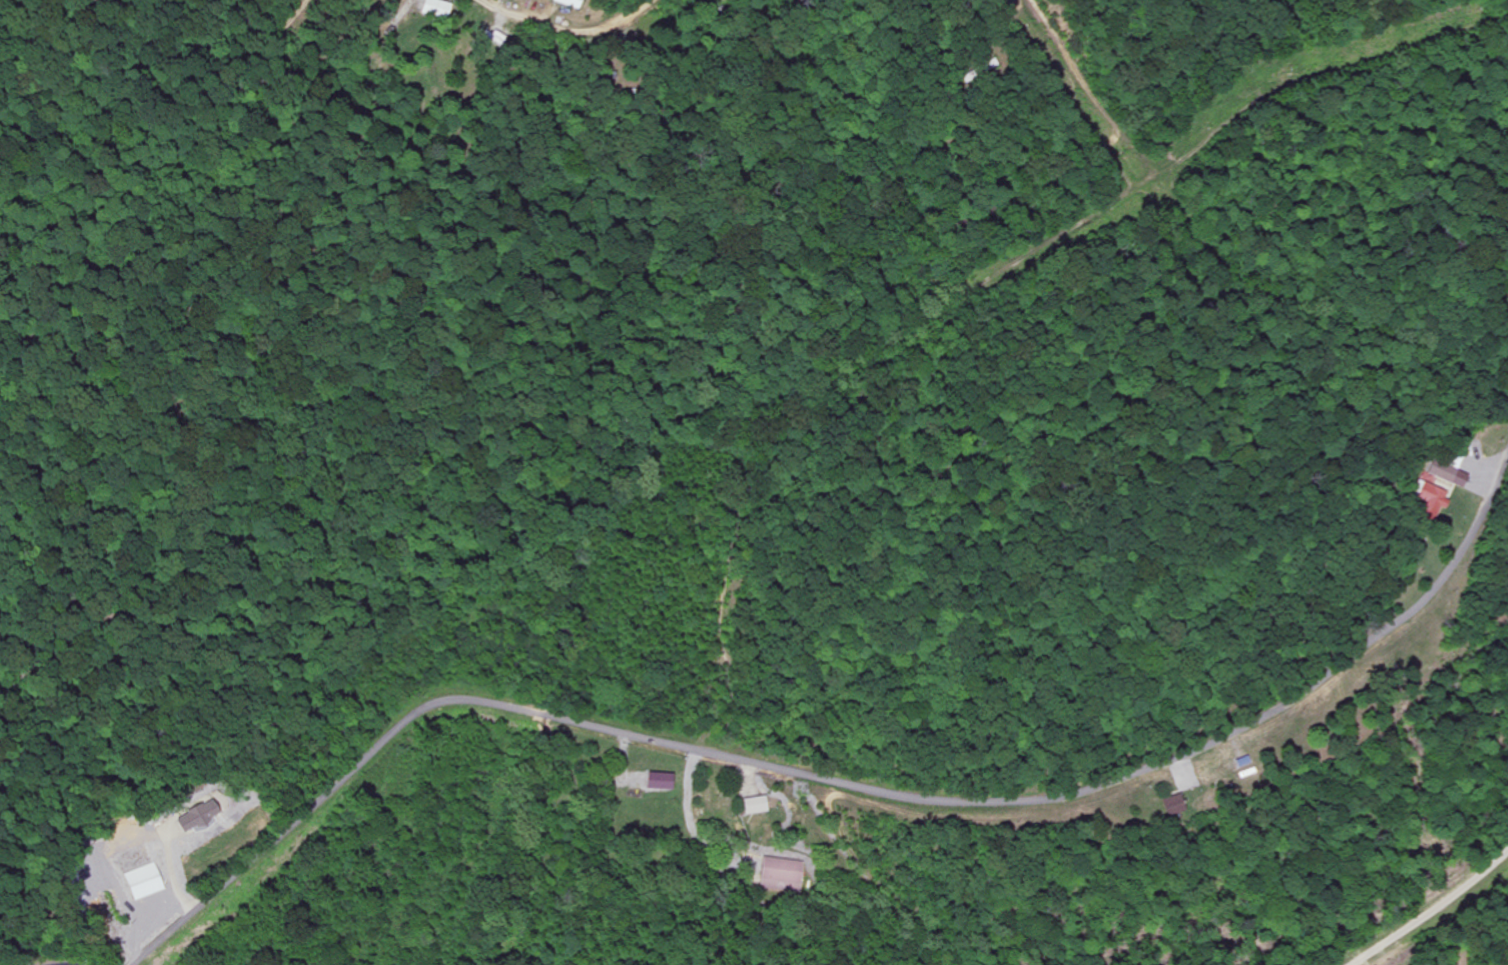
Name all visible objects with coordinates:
building: (567, 2)
building: (436, 7)
road: (1040, 16)
road: (566, 31)
road: (179, 363)
building: (1448, 470)
building: (1430, 495)
building: (661, 781)
road: (842, 789)
building: (757, 804)
building: (1175, 804)
building: (198, 815)
building: (783, 873)
building: (144, 881)
road: (1435, 910)

